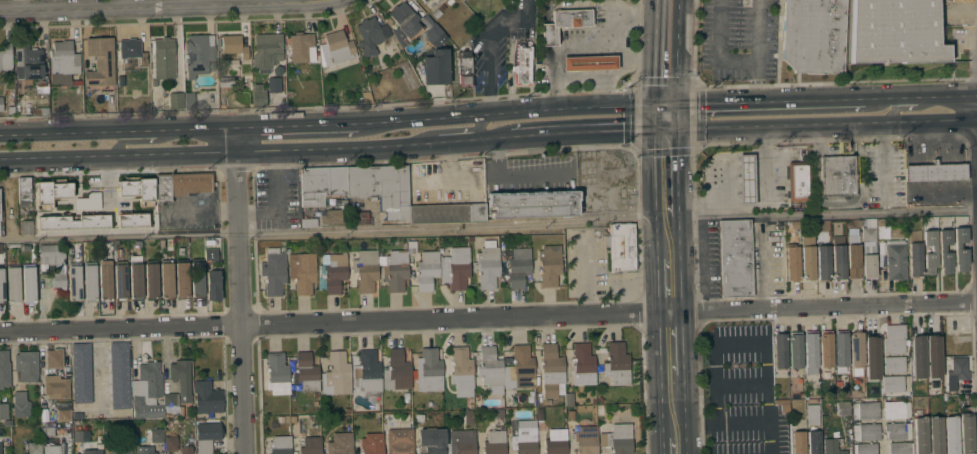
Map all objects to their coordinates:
building: (431, 3)
road: (151, 6)
building: (404, 23)
building: (563, 23)
building: (895, 31)
building: (432, 33)
building: (371, 35)
building: (813, 35)
road: (487, 43)
building: (233, 46)
building: (302, 48)
building: (336, 48)
building: (133, 50)
road: (715, 50)
road: (758, 50)
building: (266, 51)
building: (198, 52)
road: (654, 52)
road: (676, 52)
building: (6, 57)
building: (63, 58)
building: (163, 58)
building: (29, 60)
building: (100, 61)
building: (589, 62)
gas station: (589, 62)
building: (522, 64)
building: (422, 66)
building: (434, 67)
building: (464, 68)
building: (272, 84)
building: (258, 95)
road: (954, 96)
road: (899, 98)
building: (175, 100)
road: (770, 101)
building: (1, 104)
traffic signals: (653, 104)
road: (663, 104)
traffic signals: (674, 104)
road: (908, 109)
building: (40, 111)
road: (505, 112)
road: (659, 116)
road: (670, 116)
road: (932, 120)
road: (295, 125)
road: (777, 125)
road: (478, 126)
traffic signals: (666, 129)
road: (116, 132)
road: (587, 133)
road: (119, 144)
road: (254, 150)
road: (890, 167)
building: (935, 171)
road: (667, 172)
building: (746, 174)
building: (837, 175)
road: (120, 178)
gas station: (746, 179)
building: (798, 181)
building: (180, 184)
building: (321, 184)
building: (136, 188)
building: (381, 188)
road: (280, 190)
building: (50, 191)
building: (25, 194)
building: (8, 201)
building: (88, 201)
building: (533, 203)
road: (755, 206)
road: (258, 213)
building: (446, 213)
road: (822, 213)
building: (334, 217)
building: (361, 217)
building: (131, 219)
building: (73, 221)
building: (26, 227)
building: (1, 228)
road: (334, 229)
building: (881, 229)
building: (867, 230)
building: (896, 231)
road: (668, 237)
building: (621, 246)
building: (933, 249)
building: (945, 251)
building: (915, 253)
building: (50, 255)
building: (210, 255)
building: (822, 255)
building: (960, 256)
building: (808, 257)
building: (734, 258)
building: (895, 260)
building: (853, 261)
building: (838, 262)
building: (792, 263)
building: (549, 265)
building: (487, 266)
building: (869, 266)
building: (455, 267)
building: (518, 267)
building: (426, 269)
building: (365, 270)
building: (395, 270)
building: (301, 271)
building: (273, 273)
building: (334, 273)
building: (181, 278)
building: (197, 278)
building: (166, 279)
building: (58, 280)
building: (136, 280)
building: (151, 280)
building: (105, 281)
building: (120, 281)
building: (74, 282)
building: (89, 282)
building: (12, 284)
building: (28, 284)
road: (669, 284)
building: (212, 285)
building: (1, 286)
road: (239, 290)
road: (488, 317)
building: (958, 323)
building: (894, 339)
road: (756, 342)
road: (672, 343)
building: (825, 349)
building: (841, 349)
building: (856, 349)
building: (795, 350)
building: (779, 351)
building: (810, 353)
building: (917, 356)
building: (932, 356)
building: (871, 357)
building: (57, 358)
road: (97, 363)
building: (617, 364)
building: (894, 364)
building: (582, 365)
building: (26, 366)
building: (461, 368)
building: (506, 368)
building: (4, 369)
building: (429, 370)
building: (551, 370)
building: (368, 371)
building: (396, 371)
building: (81, 372)
building: (306, 372)
building: (955, 373)
building: (277, 374)
building: (336, 374)
building: (119, 375)
building: (181, 378)
road: (740, 382)
building: (893, 384)
building: (56, 386)
building: (147, 391)
building: (207, 398)
building: (568, 398)
road: (675, 399)
building: (21, 404)
building: (170, 404)
building: (842, 407)
building: (896, 408)
building: (865, 409)
building: (3, 411)
building: (63, 414)
building: (811, 414)
building: (468, 416)
road: (742, 420)
road: (695, 422)
road: (676, 431)
building: (866, 431)
building: (897, 431)
building: (966, 433)
building: (208, 435)
building: (920, 435)
building: (936, 435)
building: (950, 435)
building: (79, 436)
building: (524, 437)
building: (617, 439)
building: (586, 440)
building: (150, 441)
building: (400, 441)
building: (461, 441)
building: (432, 442)
building: (494, 442)
building: (556, 442)
building: (798, 442)
building: (813, 442)
building: (170, 443)
building: (340, 443)
building: (372, 443)
building: (831, 444)
building: (279, 445)
building: (310, 445)
road: (677, 446)
building: (34, 447)
building: (864, 448)
building: (900, 448)
building: (51, 449)
building: (0, 450)
building: (121, 450)
building: (186, 450)
building: (92, 451)

